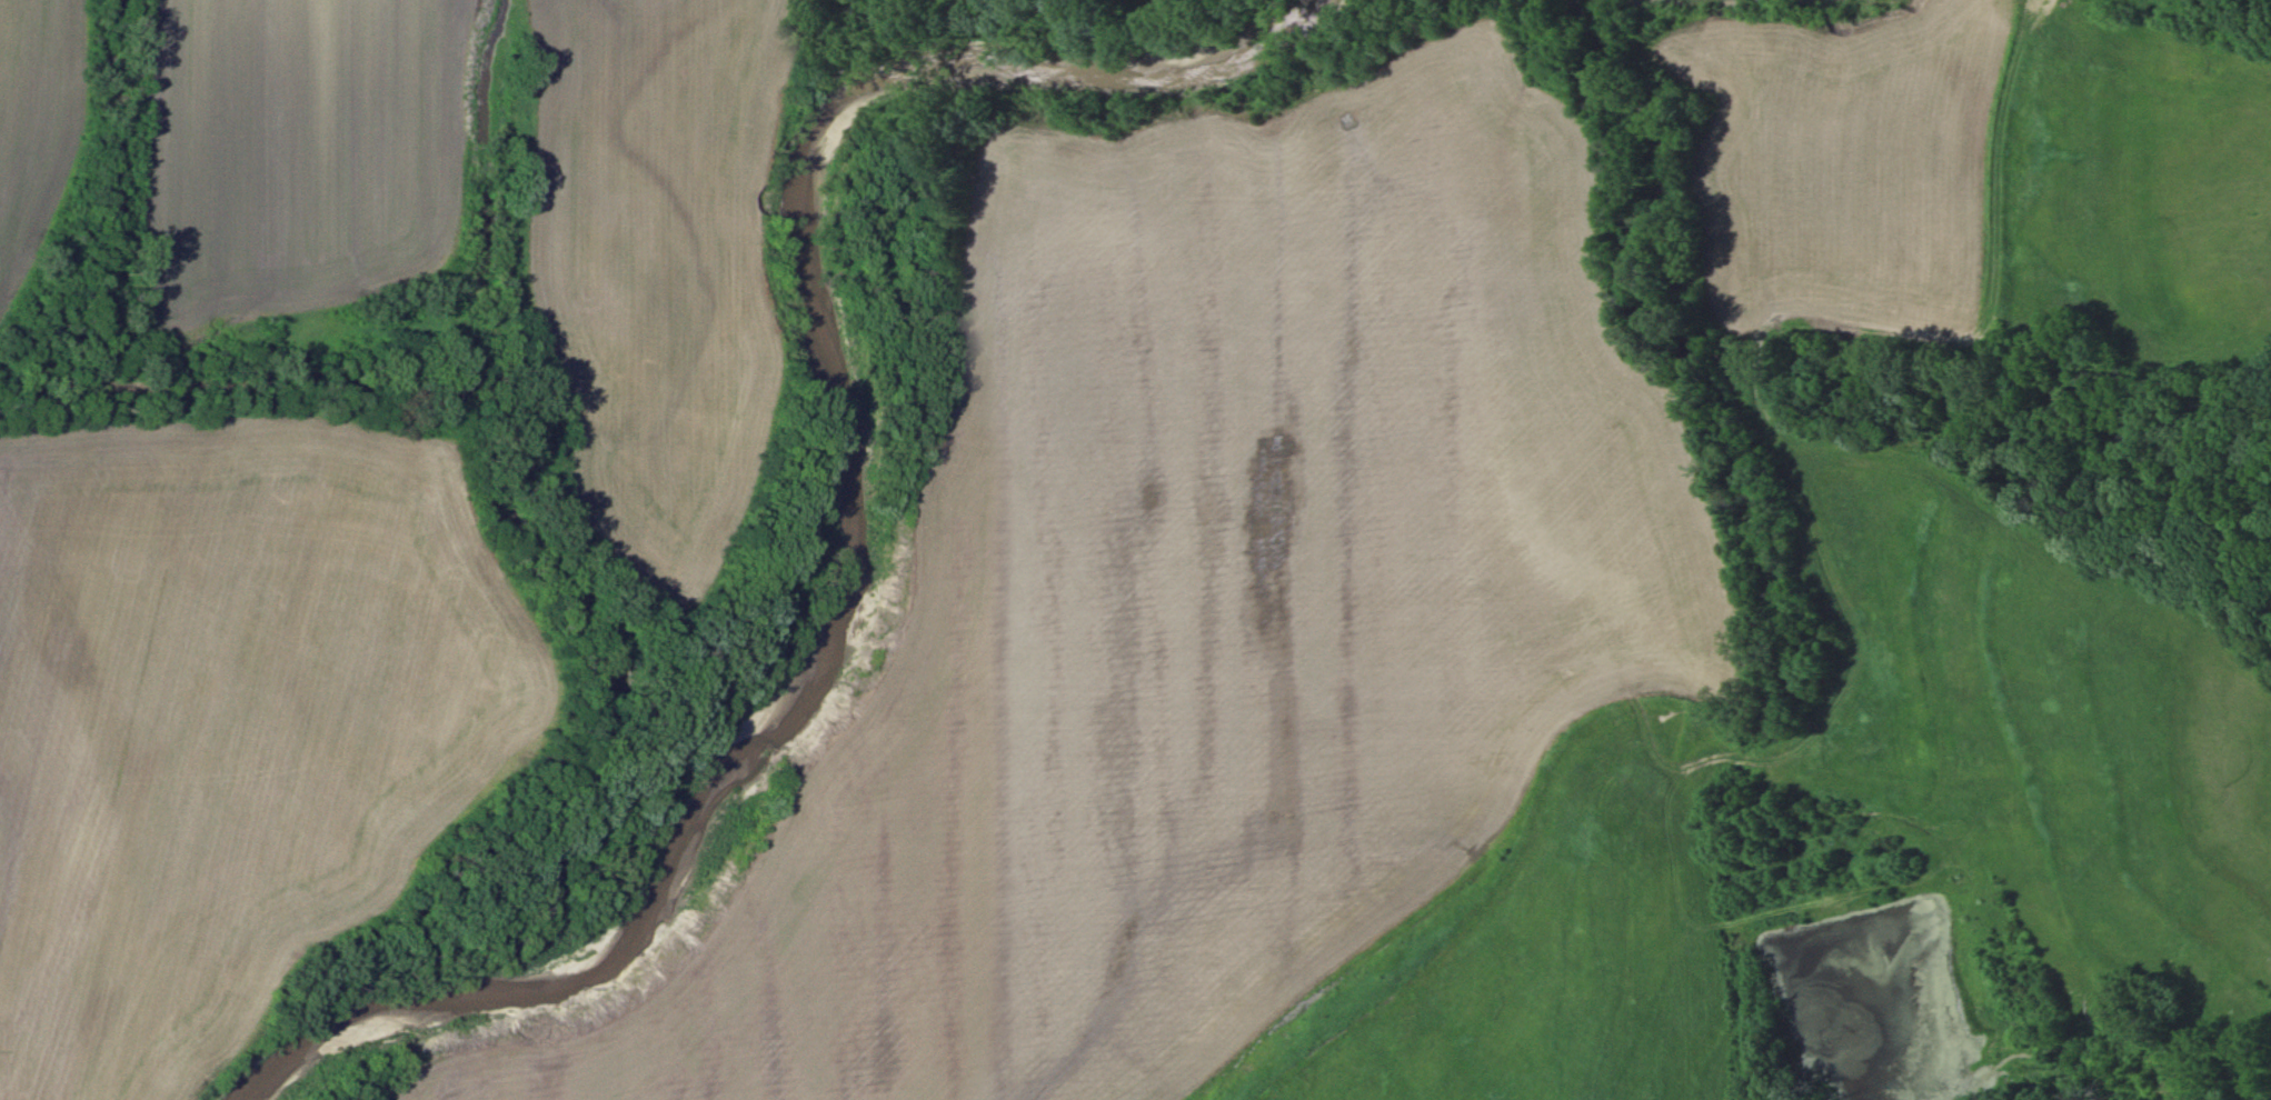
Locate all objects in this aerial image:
road: (2039, 10)

